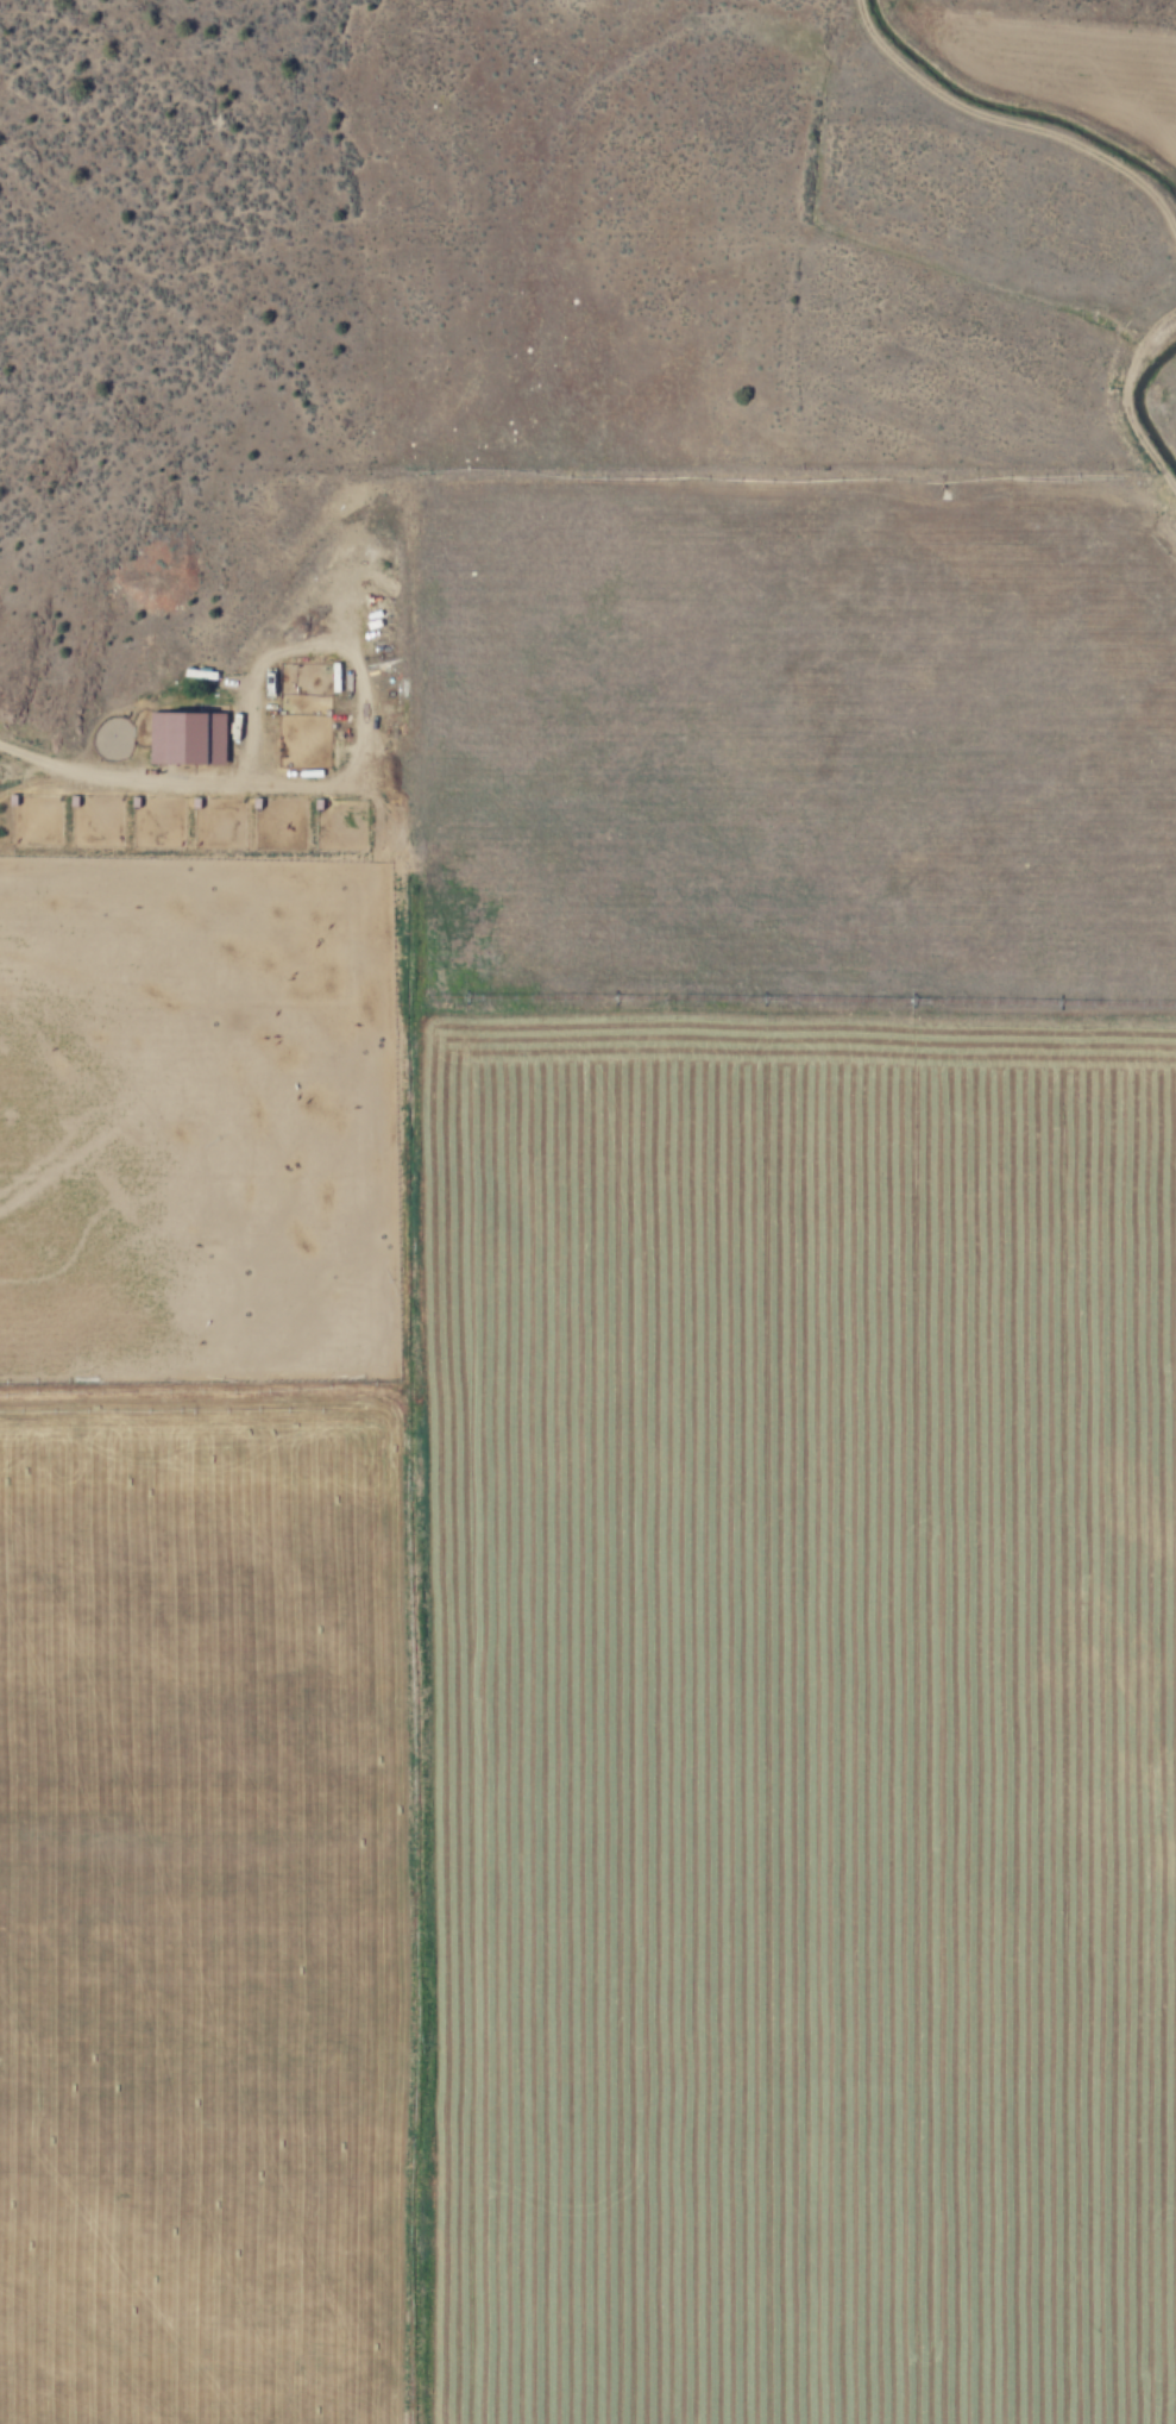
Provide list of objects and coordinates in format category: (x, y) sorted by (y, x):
road: (1018, 115)
crop: (636, 1314)

